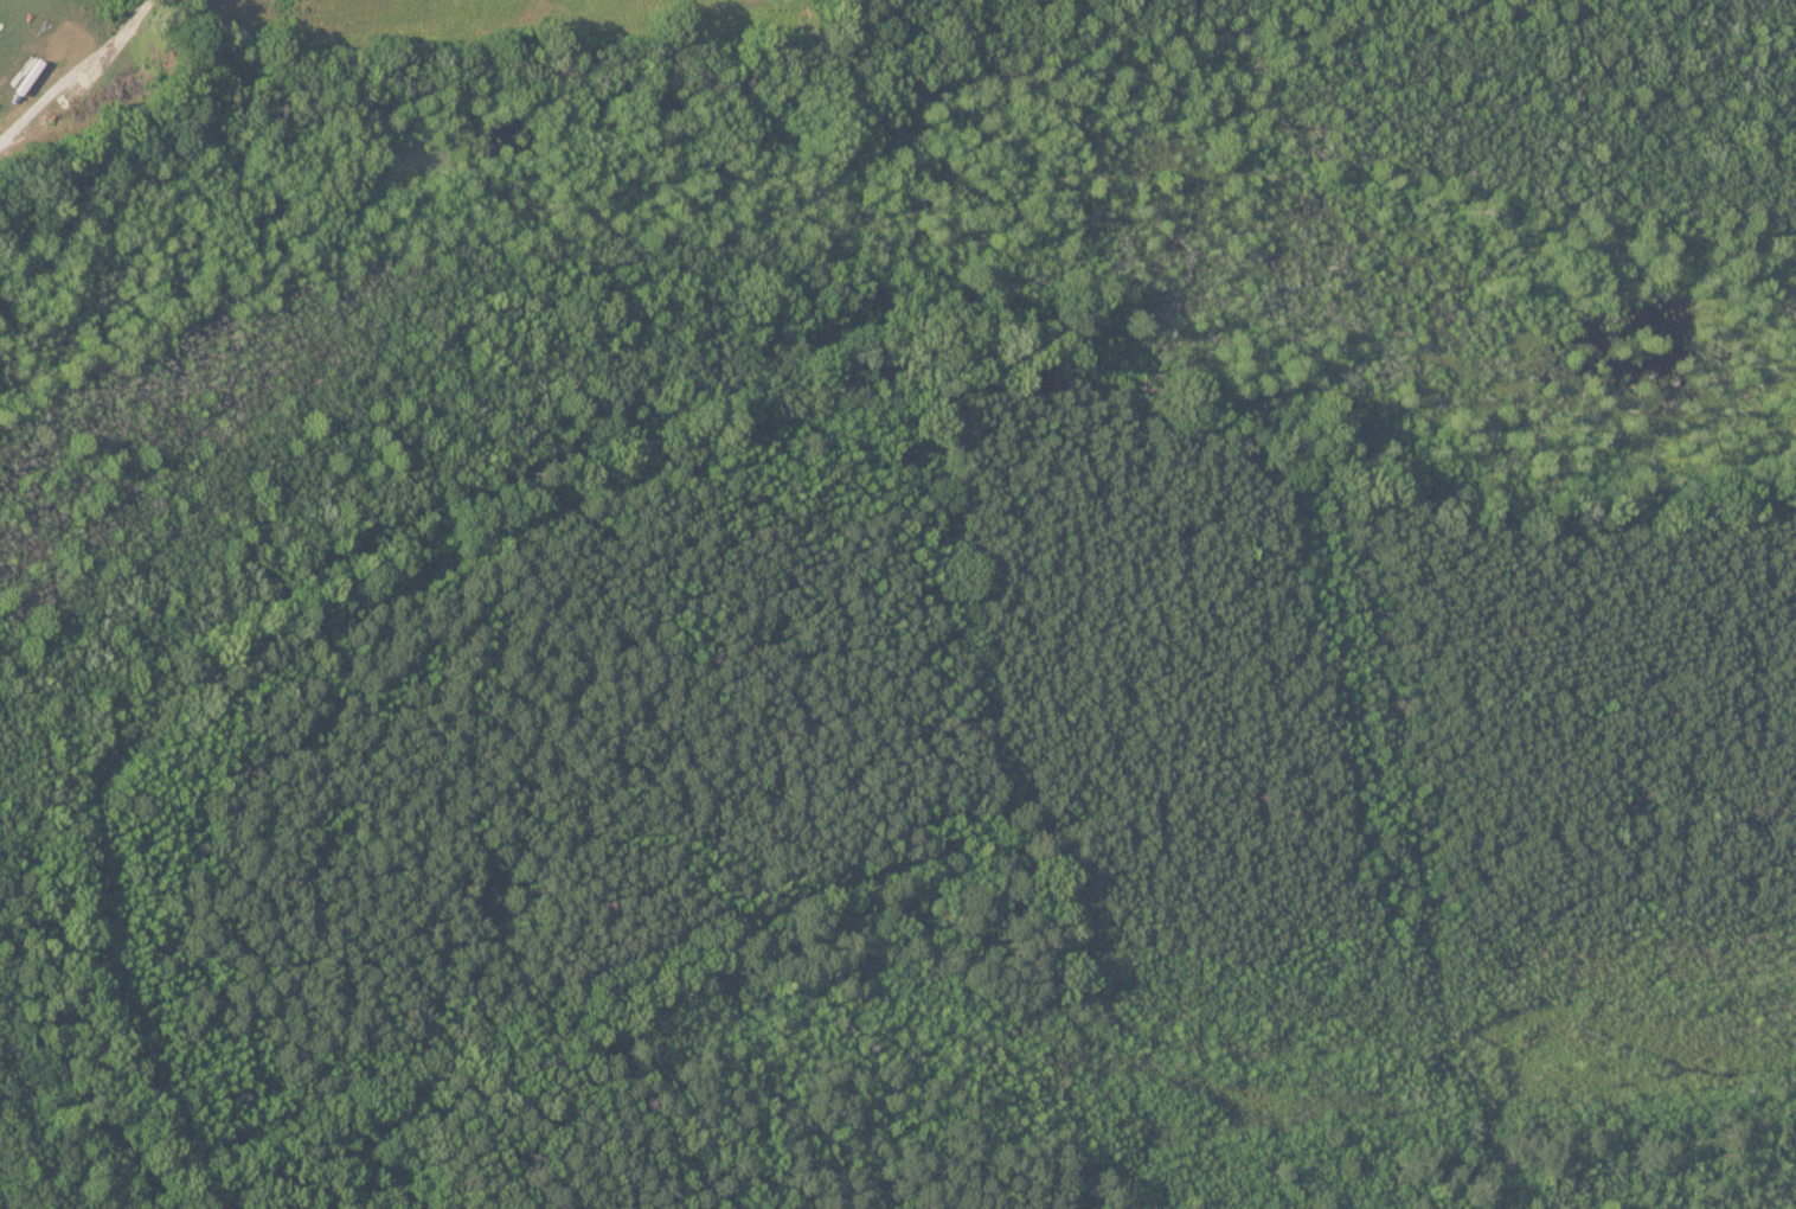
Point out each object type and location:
road: (88, 97)

